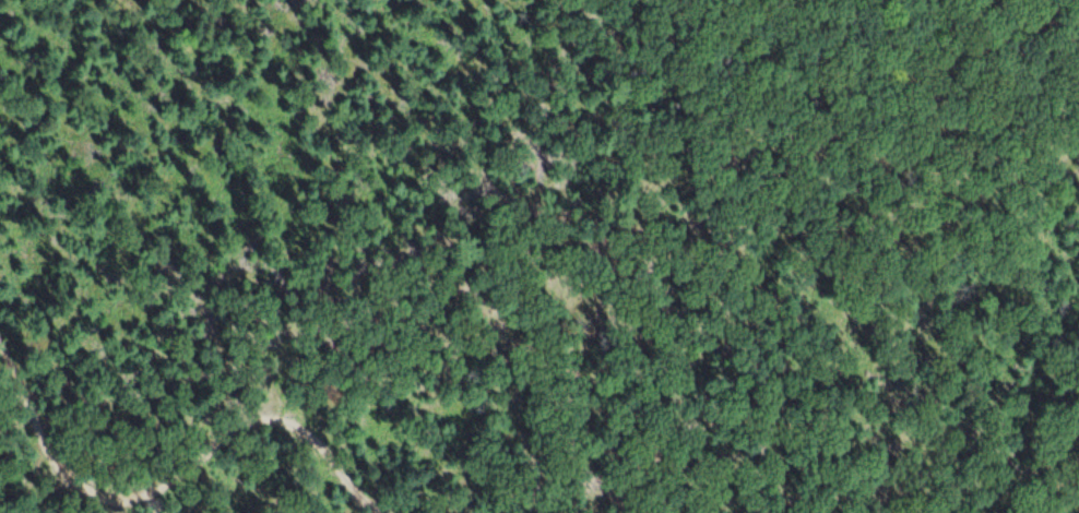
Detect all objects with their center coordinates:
road: (749, 317)
road: (179, 475)
road: (438, 497)

